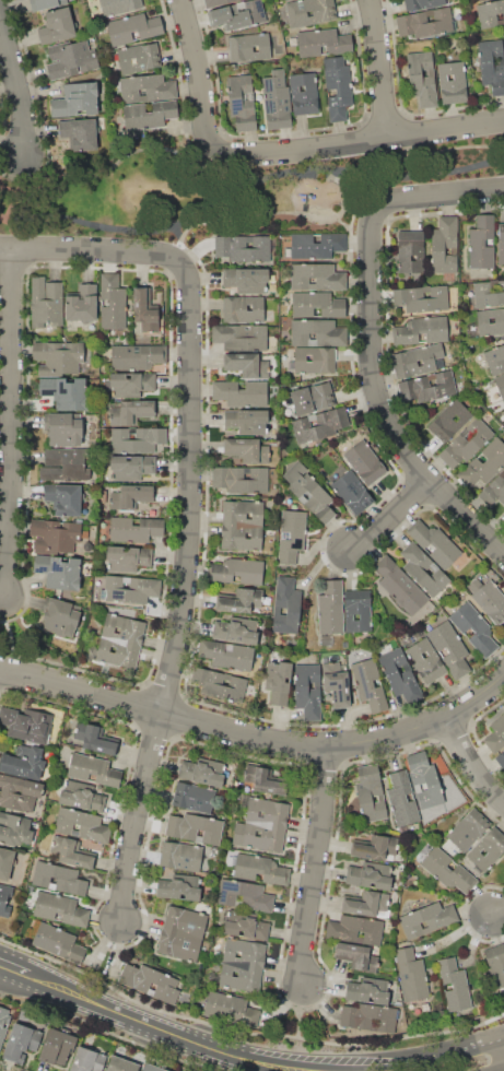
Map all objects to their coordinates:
building: (479, 0)
building: (216, 2)
building: (45, 4)
building: (422, 4)
building: (119, 7)
building: (324, 13)
building: (238, 14)
building: (490, 14)
building: (425, 22)
building: (57, 25)
building: (133, 28)
building: (503, 39)
building: (323, 43)
building: (249, 47)
building: (139, 58)
building: (70, 59)
building: (491, 64)
road: (378, 68)
road: (16, 74)
building: (421, 78)
building: (452, 82)
building: (337, 86)
building: (146, 87)
building: (303, 94)
building: (77, 99)
building: (277, 99)
building: (242, 102)
building: (149, 114)
building: (79, 133)
road: (288, 149)
road: (239, 169)
road: (247, 183)
road: (441, 190)
road: (19, 200)
road: (268, 211)
road: (175, 234)
building: (482, 242)
building: (501, 243)
building: (315, 245)
building: (243, 247)
building: (444, 247)
road: (86, 251)
building: (409, 251)
building: (317, 276)
building: (246, 279)
building: (489, 292)
building: (422, 297)
building: (46, 302)
building: (113, 303)
building: (82, 304)
building: (317, 304)
building: (242, 308)
building: (144, 309)
building: (482, 320)
building: (421, 330)
building: (316, 332)
building: (241, 337)
building: (137, 356)
building: (60, 357)
building: (495, 358)
building: (316, 360)
building: (415, 360)
building: (247, 365)
building: (131, 384)
building: (500, 385)
building: (427, 387)
building: (241, 392)
building: (66, 393)
building: (309, 397)
road: (386, 400)
building: (131, 412)
building: (246, 421)
building: (449, 421)
building: (319, 425)
road: (14, 426)
building: (65, 429)
building: (137, 439)
building: (466, 443)
building: (247, 450)
building: (365, 462)
building: (485, 462)
building: (63, 464)
building: (132, 468)
building: (241, 479)
road: (191, 481)
building: (494, 490)
building: (308, 492)
building: (352, 492)
building: (130, 496)
building: (65, 498)
road: (392, 516)
building: (242, 526)
building: (134, 529)
building: (291, 535)
building: (54, 537)
building: (434, 543)
building: (128, 558)
building: (423, 568)
building: (236, 570)
building: (58, 572)
building: (399, 585)
building: (130, 588)
building: (489, 599)
building: (239, 600)
building: (286, 605)
building: (330, 608)
building: (358, 610)
building: (59, 616)
road: (3, 621)
building: (474, 628)
building: (236, 629)
building: (121, 642)
building: (449, 648)
building: (226, 654)
building: (424, 661)
building: (399, 674)
building: (278, 682)
building: (219, 683)
building: (368, 683)
building: (337, 684)
building: (308, 691)
building: (26, 723)
road: (257, 734)
building: (495, 734)
building: (96, 739)
building: (501, 757)
building: (23, 762)
road: (474, 764)
building: (93, 768)
building: (202, 770)
building: (263, 779)
building: (424, 779)
building: (19, 792)
building: (370, 792)
building: (81, 796)
building: (194, 797)
building: (402, 798)
road: (140, 820)
building: (81, 824)
building: (262, 824)
building: (195, 827)
building: (468, 828)
building: (14, 829)
building: (375, 848)
building: (488, 849)
building: (72, 852)
building: (180, 856)
building: (5, 862)
building: (260, 869)
road: (316, 869)
building: (447, 870)
building: (368, 874)
building: (59, 878)
building: (179, 886)
building: (245, 895)
building: (4, 898)
building: (367, 904)
building: (59, 909)
road: (501, 918)
building: (426, 919)
building: (247, 928)
building: (354, 930)
building: (181, 932)
building: (58, 941)
building: (356, 956)
building: (495, 964)
building: (242, 965)
road: (11, 966)
building: (411, 974)
building: (152, 981)
building: (454, 985)
building: (368, 990)
building: (230, 1010)
road: (124, 1013)
building: (370, 1017)
building: (3, 1021)
road: (297, 1022)
building: (21, 1041)
building: (57, 1047)
building: (89, 1059)
road: (255, 1061)
road: (365, 1061)
building: (120, 1064)
building: (152, 1068)
road: (503, 1070)

